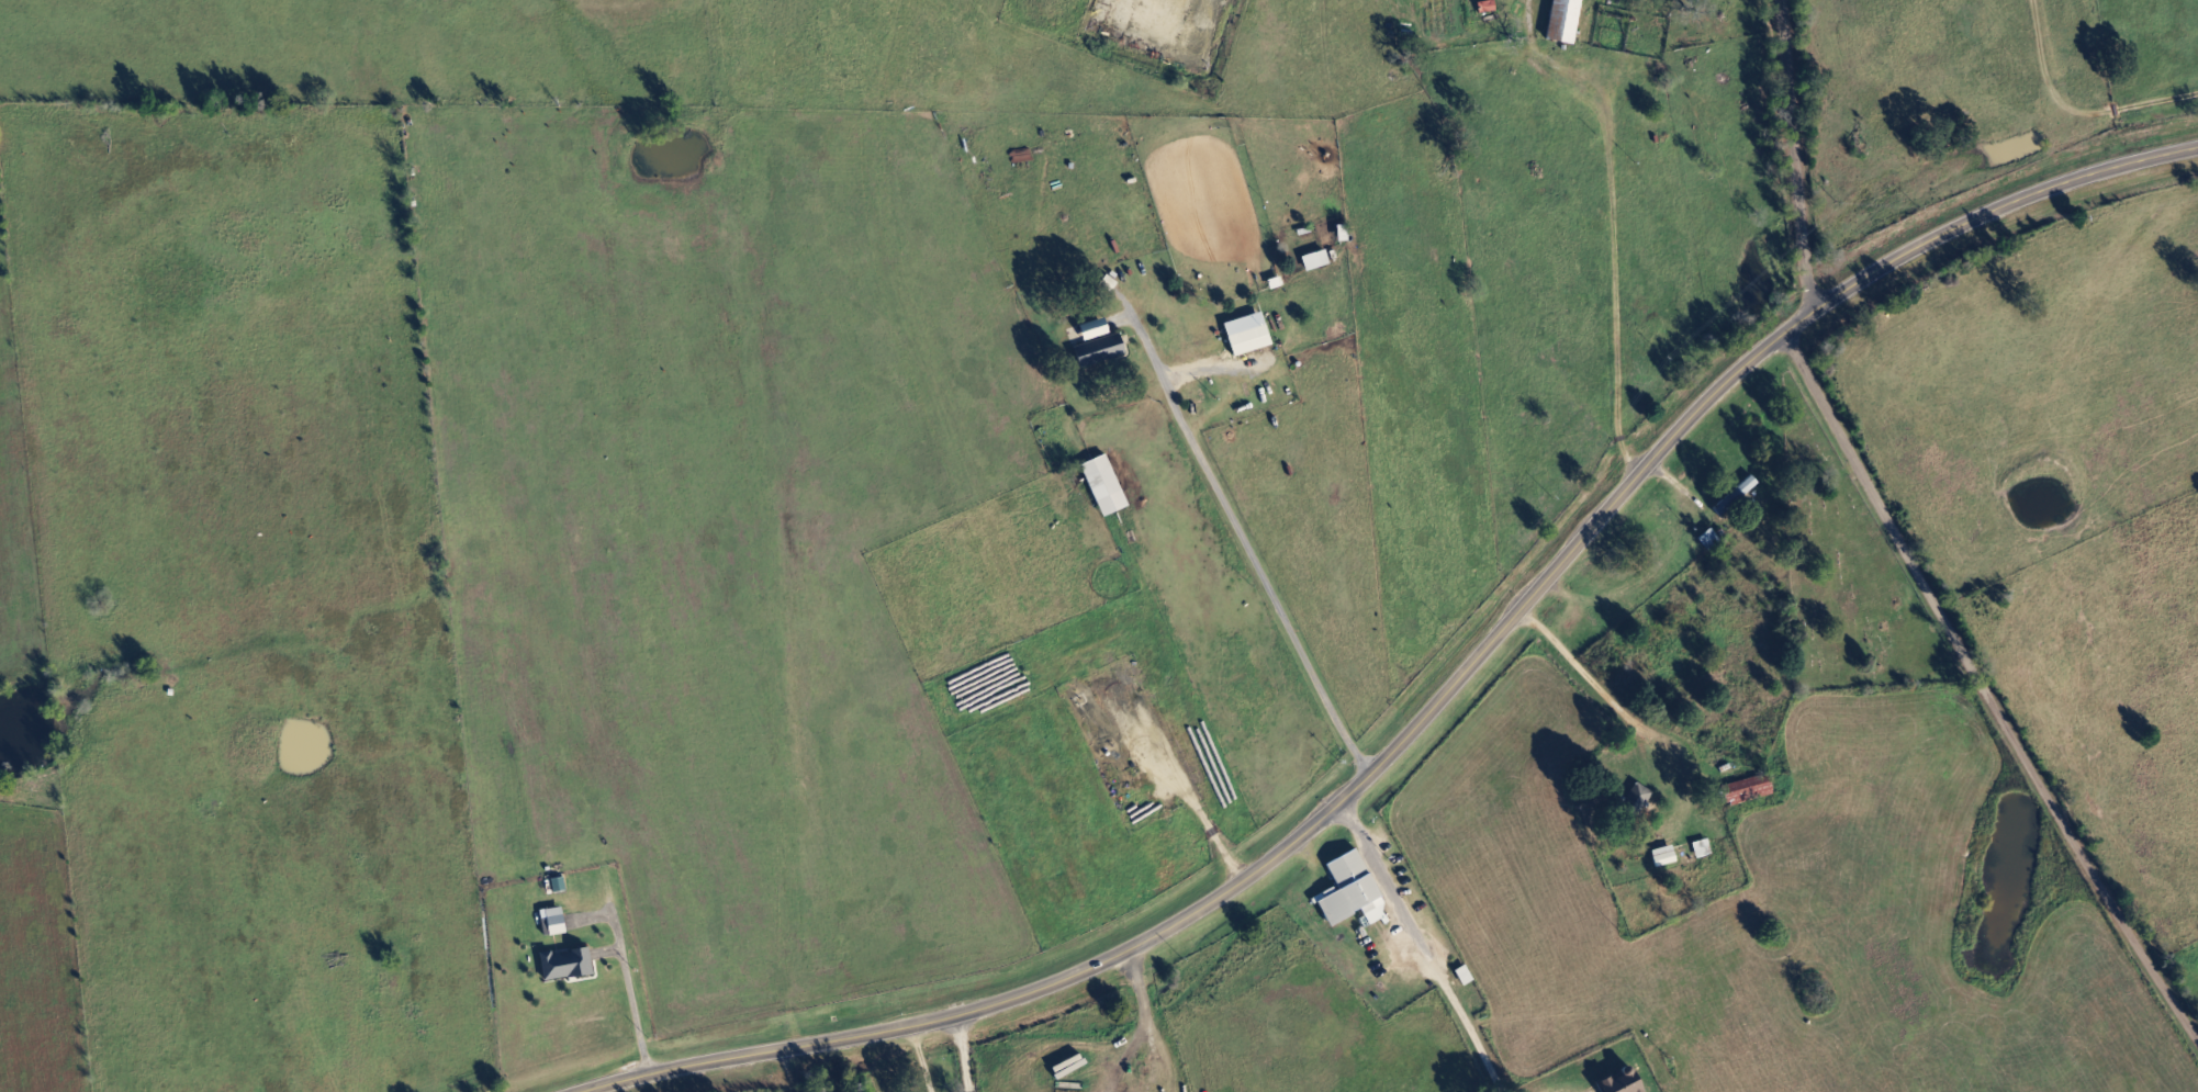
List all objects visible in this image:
building: (1490, 8)
building: (1568, 21)
road: (1628, 236)
building: (1320, 261)
building: (1252, 335)
building: (1102, 345)
building: (1108, 486)
building: (1738, 496)
road: (1911, 539)
building: (1713, 541)
road: (1436, 702)
building: (1751, 790)
building: (1638, 802)
road: (1691, 831)
building: (1667, 857)
building: (1355, 893)
building: (557, 924)
building: (570, 966)
road: (982, 1054)
building: (1625, 1084)

